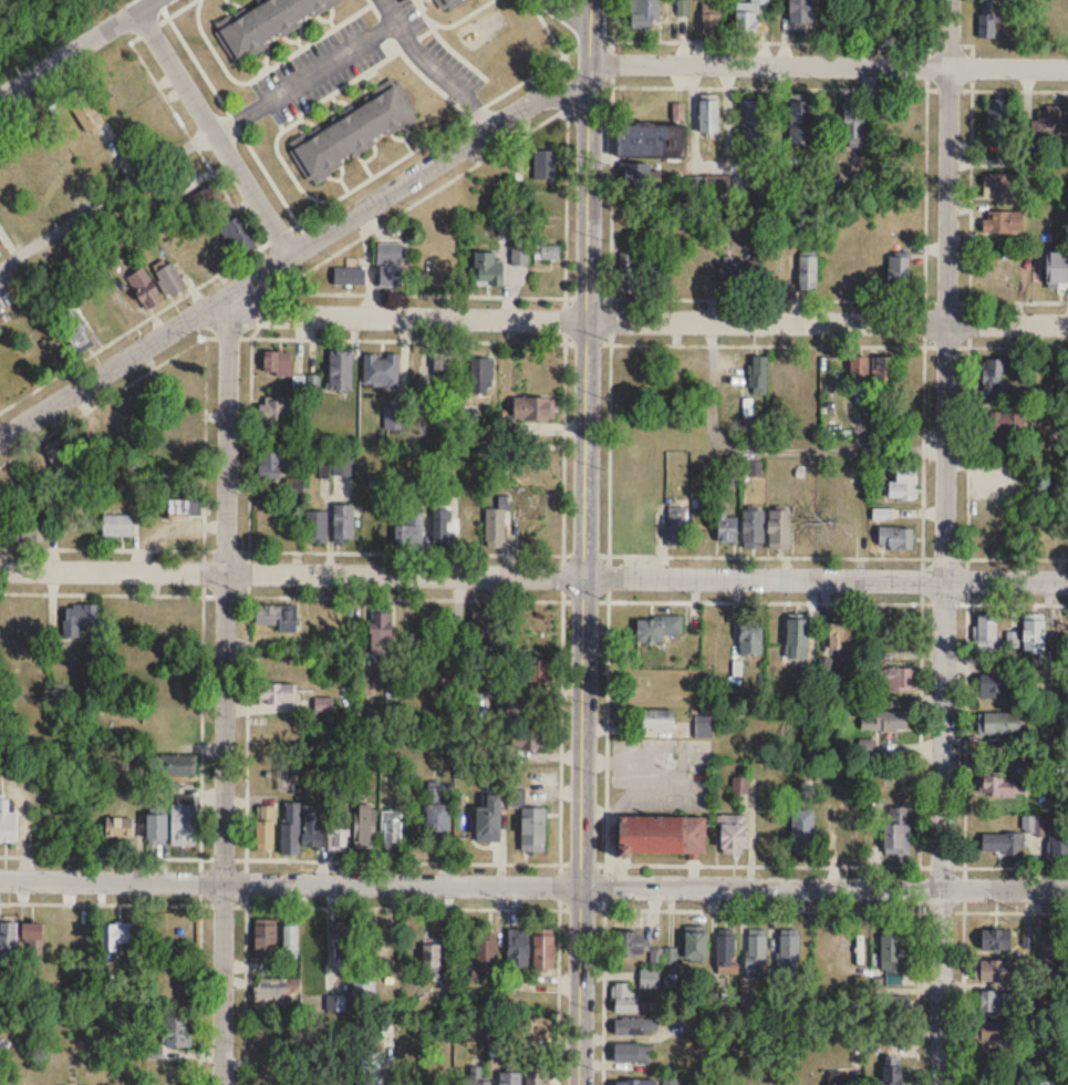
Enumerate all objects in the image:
building: (759, 2)
building: (447, 4)
road: (392, 9)
building: (800, 11)
building: (644, 14)
building: (986, 18)
road: (566, 20)
building: (711, 20)
road: (605, 21)
building: (269, 22)
building: (745, 23)
park: (41, 27)
road: (370, 34)
road: (77, 50)
road: (829, 63)
building: (126, 83)
building: (677, 110)
building: (85, 112)
building: (708, 115)
building: (754, 117)
building: (996, 118)
building: (1050, 120)
building: (799, 122)
building: (852, 122)
road: (217, 130)
building: (354, 131)
building: (651, 141)
building: (545, 164)
building: (639, 175)
building: (725, 185)
building: (1002, 185)
road: (107, 196)
building: (206, 201)
building: (1003, 221)
road: (380, 223)
road: (281, 230)
building: (236, 238)
building: (1, 246)
road: (289, 252)
building: (547, 252)
building: (520, 256)
building: (390, 265)
building: (488, 270)
building: (1057, 270)
building: (629, 272)
building: (728, 273)
building: (807, 273)
building: (898, 275)
building: (350, 276)
building: (169, 279)
building: (144, 288)
road: (697, 297)
road: (267, 311)
road: (640, 319)
building: (75, 333)
road: (767, 343)
road: (996, 344)
building: (278, 363)
building: (445, 363)
building: (340, 370)
building: (382, 370)
building: (858, 370)
building: (884, 370)
building: (759, 375)
building: (993, 375)
building: (481, 376)
building: (533, 407)
building: (279, 409)
building: (1000, 424)
road: (563, 427)
building: (178, 446)
road: (610, 447)
road: (771, 448)
building: (61, 457)
building: (272, 465)
building: (342, 466)
building: (903, 485)
building: (184, 507)
building: (882, 514)
building: (0, 519)
building: (343, 523)
building: (116, 525)
building: (314, 526)
building: (676, 526)
building: (496, 527)
building: (727, 527)
building: (442, 529)
building: (753, 529)
building: (25, 530)
building: (778, 530)
building: (409, 531)
building: (895, 537)
road: (585, 541)
road: (944, 541)
road: (838, 555)
road: (966, 556)
road: (533, 575)
road: (823, 600)
building: (277, 616)
building: (77, 618)
building: (481, 623)
building: (656, 629)
building: (382, 632)
building: (987, 633)
building: (1034, 633)
building: (841, 634)
building: (18, 635)
building: (749, 639)
building: (796, 639)
building: (538, 672)
building: (446, 673)
building: (895, 679)
building: (998, 692)
building: (276, 693)
road: (225, 697)
road: (965, 704)
building: (324, 705)
road: (267, 707)
building: (525, 709)
building: (659, 720)
building: (883, 722)
building: (998, 724)
building: (528, 738)
building: (177, 764)
building: (999, 786)
building: (436, 810)
building: (488, 820)
building: (7, 821)
building: (183, 825)
building: (265, 826)
building: (365, 826)
building: (120, 828)
building: (392, 828)
building: (850, 828)
building: (291, 829)
building: (155, 830)
building: (338, 830)
building: (533, 830)
building: (311, 831)
building: (896, 831)
building: (801, 833)
building: (732, 835)
building: (661, 836)
building: (1012, 838)
road: (605, 841)
building: (1058, 843)
road: (199, 879)
road: (533, 886)
road: (919, 887)
building: (116, 939)
building: (265, 940)
building: (995, 940)
building: (290, 941)
building: (8, 942)
building: (31, 942)
building: (382, 944)
building: (629, 944)
building: (343, 945)
building: (518, 949)
building: (682, 952)
building: (542, 953)
building: (1054, 953)
building: (789, 954)
building: (725, 955)
building: (889, 955)
building: (485, 957)
building: (756, 958)
building: (431, 961)
building: (994, 971)
building: (651, 979)
building: (271, 996)
building: (363, 998)
road: (917, 998)
road: (962, 998)
building: (624, 999)
building: (339, 1003)
building: (995, 1004)
building: (890, 1006)
building: (629, 1027)
building: (531, 1030)
building: (175, 1032)
building: (989, 1032)
building: (630, 1054)
building: (373, 1068)
building: (744, 1072)
building: (891, 1075)
building: (838, 1078)
building: (509, 1079)
building: (537, 1079)
building: (478, 1082)
building: (670, 1082)
building: (635, 1083)
building: (696, 1083)

